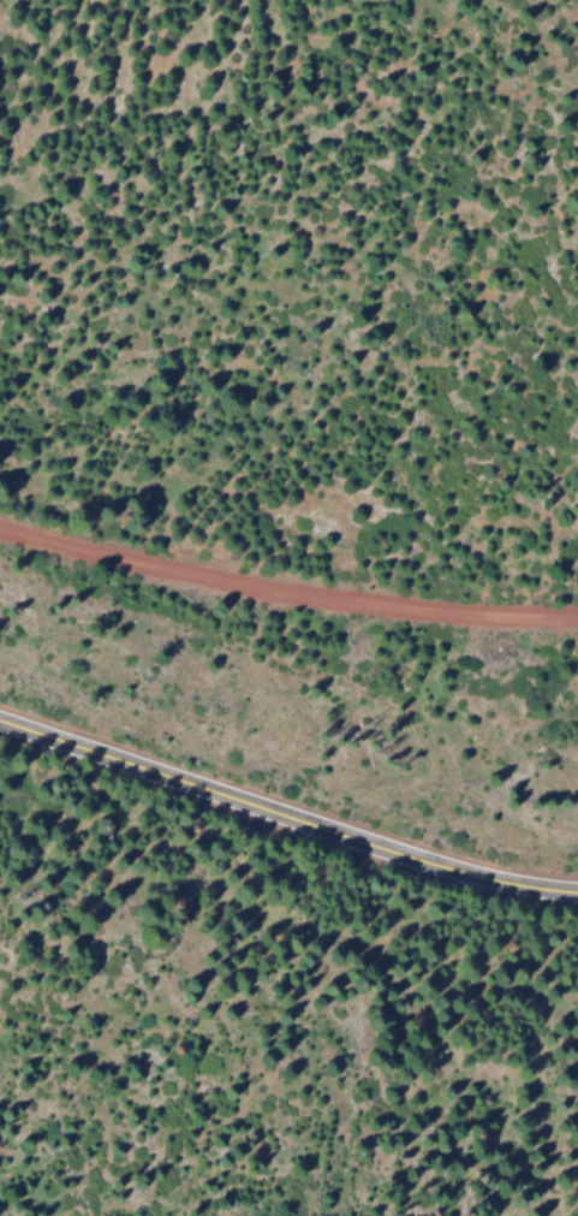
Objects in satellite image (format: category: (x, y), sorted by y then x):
road: (286, 589)
road: (286, 812)

